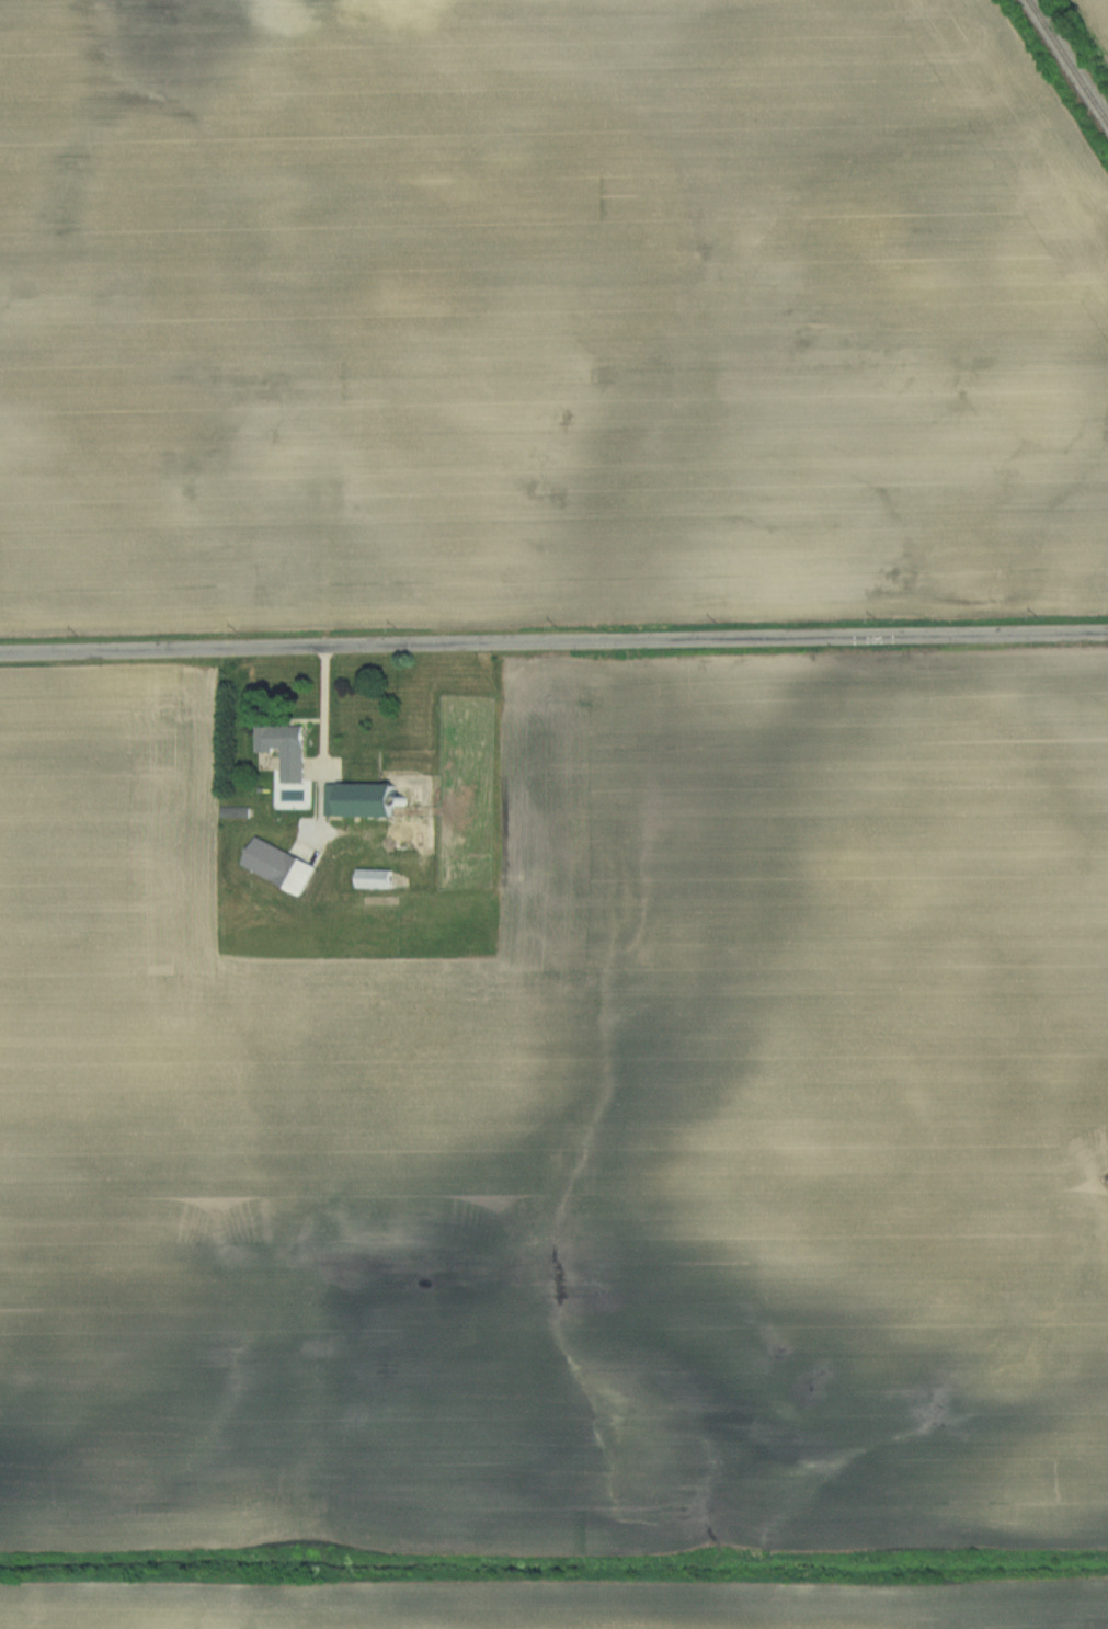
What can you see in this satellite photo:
crop: (1093, 23)
railway: (1072, 54)
road: (553, 642)
road: (321, 742)
building: (286, 749)
building: (363, 800)
building: (309, 841)
building: (376, 879)

